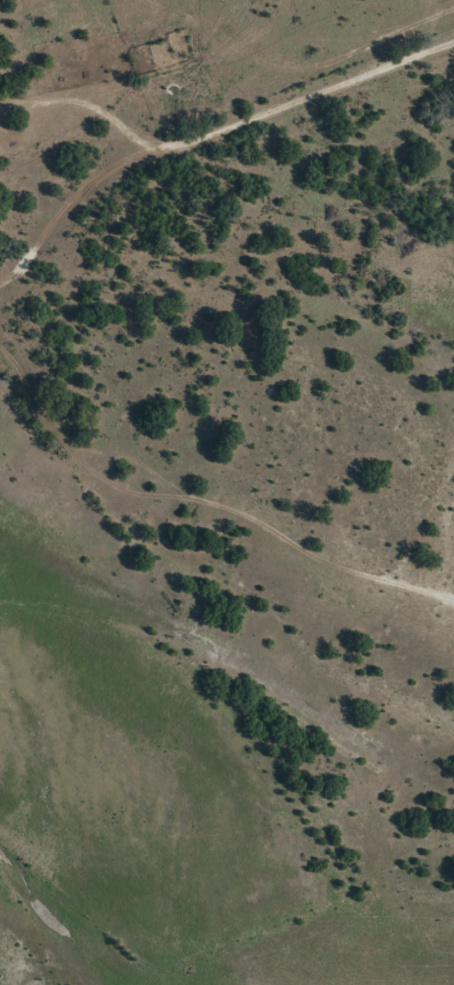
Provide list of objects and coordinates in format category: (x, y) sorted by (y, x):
road: (225, 77)

